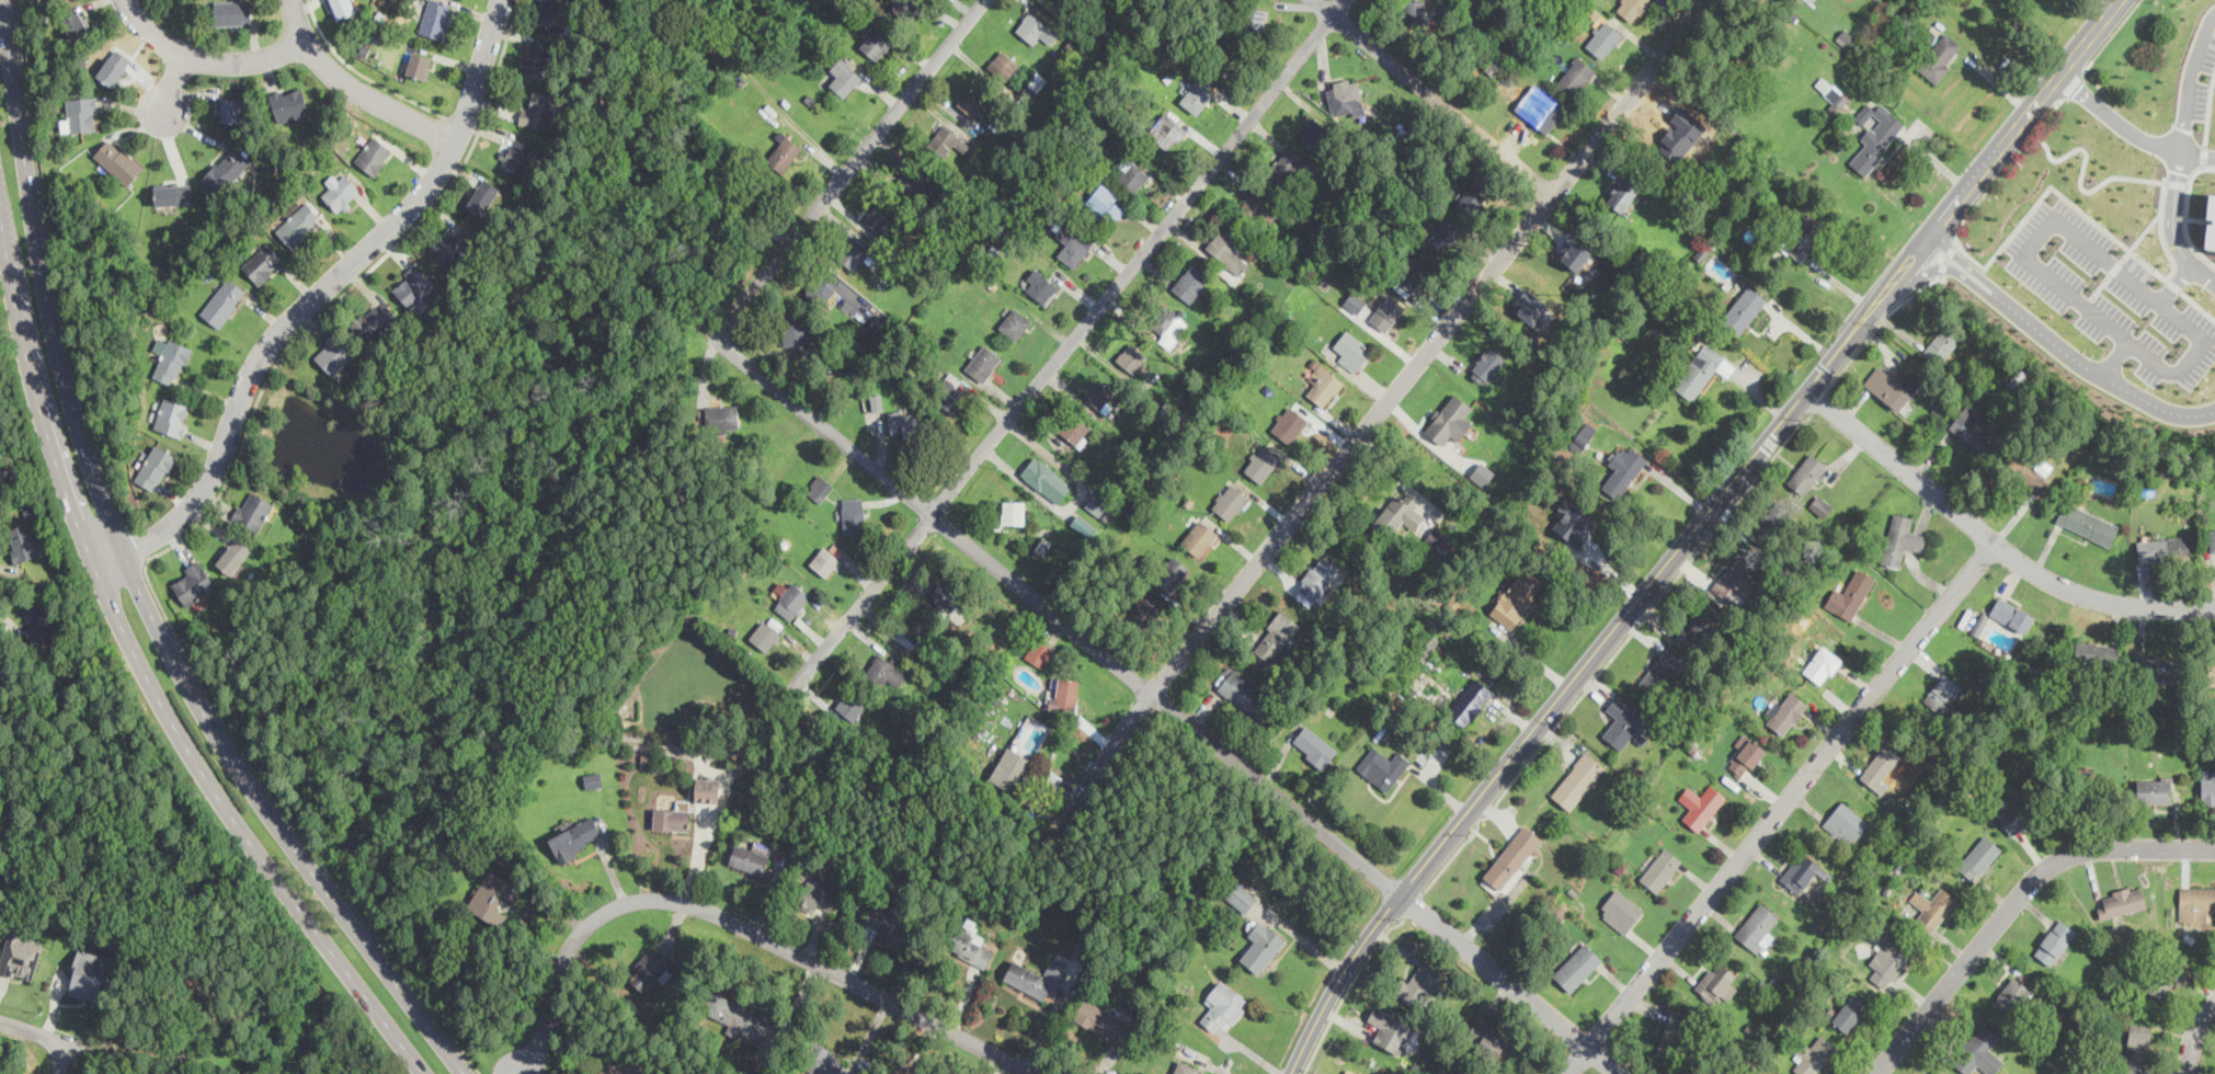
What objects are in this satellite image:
building: (1063, 3)
building: (905, 7)
building: (342, 8)
building: (1633, 8)
building: (232, 12)
building: (1414, 12)
building: (553, 15)
building: (1254, 16)
building: (436, 18)
building: (76, 24)
building: (1035, 27)
road: (2112, 33)
building: (1603, 37)
building: (875, 45)
road: (208, 56)
building: (1224, 56)
building: (1940, 56)
building: (536, 58)
road: (498, 64)
building: (1003, 64)
building: (419, 65)
building: (1493, 66)
building: (114, 67)
road: (363, 72)
building: (844, 75)
building: (1575, 76)
road: (2191, 79)
building: (1036, 80)
road: (172, 82)
road: (2073, 83)
road: (355, 90)
building: (1830, 91)
road: (1429, 94)
building: (1196, 96)
building: (1345, 96)
building: (973, 101)
building: (288, 102)
building: (231, 108)
building: (539, 108)
road: (2210, 108)
building: (1542, 112)
building: (80, 113)
road: (2115, 119)
road: (461, 123)
building: (1167, 127)
building: (1312, 130)
building: (1875, 136)
building: (949, 140)
building: (516, 153)
building: (784, 153)
road: (2197, 153)
building: (374, 155)
road: (2204, 156)
building: (117, 161)
building: (1281, 167)
building: (226, 168)
road: (850, 168)
road: (2000, 170)
building: (1133, 171)
road: (2080, 178)
building: (916, 181)
road: (2178, 183)
building: (341, 192)
building: (173, 193)
building: (1622, 193)
building: (765, 195)
building: (483, 196)
building: (1474, 196)
building: (1109, 204)
building: (1256, 207)
road: (2173, 209)
road: (2185, 212)
building: (880, 217)
road: (2093, 219)
building: (2214, 219)
building: (298, 224)
building: (1446, 235)
road: (2140, 236)
building: (1804, 237)
road: (2078, 237)
building: (450, 244)
building: (1074, 245)
building: (1225, 250)
building: (850, 253)
building: (1575, 253)
road: (1945, 256)
building: (263, 262)
road: (2115, 266)
road: (53, 268)
building: (1412, 271)
road: (2203, 272)
building: (1190, 282)
road: (2176, 283)
building: (413, 285)
building: (1040, 285)
road: (2101, 285)
road: (2173, 285)
road: (327, 287)
building: (823, 292)
parking lot: (2111, 294)
building: (222, 300)
building: (1355, 301)
road: (2014, 304)
road: (2199, 305)
building: (1530, 306)
building: (1744, 308)
building: (1386, 312)
building: (374, 319)
building: (1014, 322)
road: (1879, 323)
building: (1168, 327)
building: (795, 332)
road: (1069, 342)
building: (1944, 342)
building: (1351, 350)
building: (333, 353)
building: (1131, 356)
road: (2113, 358)
building: (171, 361)
building: (983, 362)
building: (1486, 364)
building: (1703, 369)
building: (1914, 379)
building: (1323, 384)
building: (1889, 387)
building: (952, 392)
building: (1100, 395)
road: (1820, 399)
building: (877, 402)
road: (2155, 405)
road: (1375, 410)
building: (171, 415)
building: (721, 416)
building: (1450, 419)
building: (905, 421)
building: (1290, 424)
building: (1074, 427)
building: (1974, 429)
building: (1583, 436)
building: (1261, 462)
building: (156, 467)
building: (1624, 468)
building: (1806, 472)
building: (2022, 475)
building: (9, 478)
building: (1046, 478)
building: (819, 487)
building: (2149, 488)
building: (1230, 500)
building: (1097, 503)
building: (1819, 504)
building: (252, 510)
building: (1014, 511)
building: (854, 514)
building: (1398, 514)
building: (2087, 522)
building: (1574, 523)
building: (1084, 526)
building: (1772, 526)
road: (1691, 528)
building: (1198, 536)
building: (1439, 536)
building: (1900, 539)
building: (24, 541)
road: (139, 541)
building: (2212, 541)
road: (1990, 542)
building: (1044, 544)
building: (2163, 548)
building: (233, 555)
building: (826, 558)
building: (1173, 573)
road: (135, 579)
building: (1315, 580)
building: (1736, 580)
building: (193, 583)
road: (152, 589)
building: (945, 594)
building: (1850, 594)
building: (1517, 596)
building: (789, 598)
building: (1142, 610)
building: (2011, 614)
building: (37, 624)
building: (1700, 625)
building: (911, 629)
building: (766, 632)
building: (1277, 633)
building: (1426, 644)
building: (1039, 652)
road: (1614, 652)
building: (2096, 652)
building: (1826, 660)
road: (145, 666)
building: (886, 669)
building: (2153, 669)
building: (0, 670)
building: (1662, 672)
building: (2211, 673)
building: (1242, 693)
building: (1942, 693)
building: (1064, 694)
building: (1469, 700)
building: (850, 705)
road: (1167, 707)
building: (1786, 711)
building: (1624, 723)
building: (1314, 745)
building: (1746, 756)
building: (1382, 766)
building: (1881, 766)
building: (1011, 768)
building: (593, 779)
building: (1577, 780)
building: (2208, 785)
building: (2090, 787)
building: (2154, 789)
building: (708, 790)
building: (1703, 807)
road: (1778, 809)
building: (2018, 811)
building: (671, 819)
building: (1846, 822)
building: (575, 837)
building: (1511, 857)
building: (1978, 857)
building: (749, 858)
building: (1660, 869)
building: (1800, 871)
building: (494, 896)
building: (815, 896)
building: (1241, 896)
building: (2122, 900)
road: (2014, 901)
building: (2195, 902)
road: (1414, 904)
building: (1932, 906)
building: (1620, 910)
building: (887, 921)
road: (741, 925)
building: (1757, 927)
building: (2054, 940)
building: (970, 946)
building: (1261, 946)
building: (21, 955)
building: (1887, 955)
building: (1577, 966)
building: (648, 971)
building: (91, 975)
building: (1036, 979)
building: (2166, 979)
building: (1418, 982)
building: (1716, 982)
road: (1348, 987)
building: (2011, 995)
building: (1223, 1005)
building: (1849, 1012)
building: (738, 1017)
building: (1101, 1020)
building: (1390, 1030)
road: (33, 1031)
building: (1672, 1036)
road: (2195, 1036)
building: (1493, 1040)
building: (2137, 1048)
building: (1979, 1052)
building: (1814, 1054)
road: (62, 1058)
building: (825, 1062)
building: (610, 1064)
building: (752, 1067)
building: (1185, 1067)
building: (1350, 1072)

